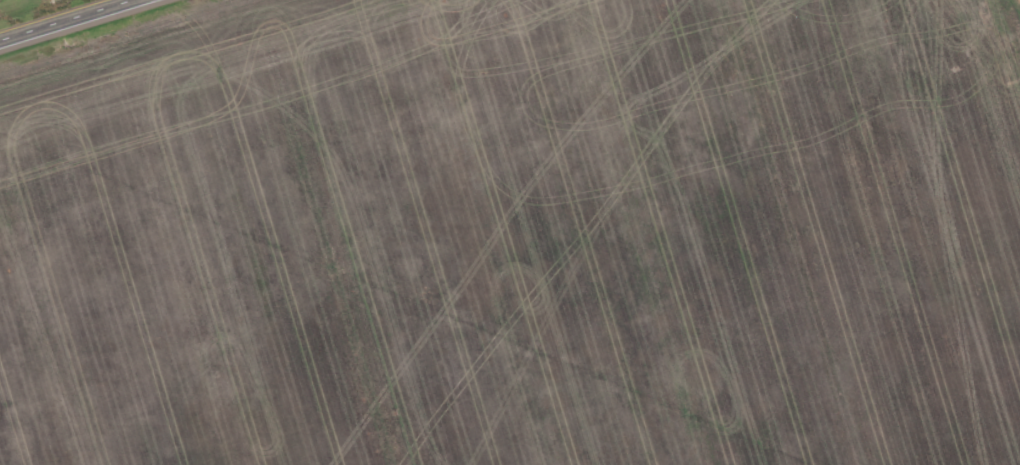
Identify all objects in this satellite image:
road: (74, 22)

